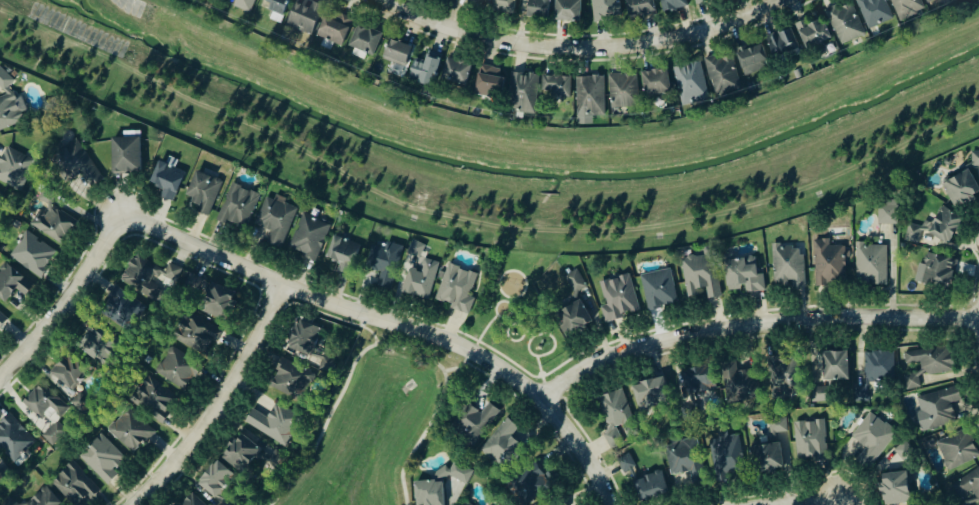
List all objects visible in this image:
building: (215, 0)
building: (442, 0)
building: (700, 1)
building: (928, 1)
building: (241, 4)
building: (473, 4)
building: (671, 5)
building: (502, 6)
building: (274, 8)
building: (638, 8)
building: (905, 8)
building: (537, 9)
building: (565, 11)
building: (604, 11)
building: (872, 12)
building: (302, 18)
building: (843, 23)
building: (332, 28)
building: (811, 34)
building: (363, 40)
building: (780, 44)
road: (582, 50)
building: (394, 53)
building: (751, 59)
building: (423, 73)
building: (454, 73)
building: (721, 74)
building: (3, 81)
building: (487, 83)
building: (654, 84)
building: (689, 84)
building: (554, 88)
building: (621, 91)
building: (521, 94)
building: (588, 97)
building: (10, 112)
building: (124, 155)
building: (975, 160)
building: (76, 163)
building: (10, 167)
building: (165, 181)
building: (959, 188)
building: (201, 193)
building: (236, 207)
building: (887, 212)
building: (51, 220)
building: (274, 220)
building: (943, 225)
building: (307, 237)
building: (341, 251)
building: (31, 254)
building: (827, 264)
building: (381, 265)
building: (870, 265)
building: (786, 266)
road: (892, 271)
building: (937, 272)
building: (139, 275)
building: (741, 276)
building: (699, 277)
building: (418, 280)
building: (573, 282)
building: (11, 283)
building: (454, 289)
building: (657, 289)
building: (617, 298)
road: (66, 299)
building: (216, 302)
building: (119, 308)
park: (520, 311)
building: (571, 319)
building: (1, 320)
road: (753, 322)
road: (394, 323)
building: (195, 335)
building: (303, 338)
building: (95, 344)
building: (928, 360)
building: (327, 365)
building: (832, 366)
building: (176, 369)
building: (67, 371)
building: (873, 371)
building: (782, 376)
building: (288, 380)
building: (696, 380)
building: (738, 383)
building: (651, 392)
building: (819, 394)
building: (152, 400)
building: (80, 402)
road: (219, 403)
building: (613, 408)
building: (936, 408)
building: (45, 411)
building: (471, 423)
building: (274, 424)
building: (776, 426)
building: (128, 432)
building: (13, 439)
building: (869, 440)
building: (808, 442)
building: (503, 445)
building: (957, 448)
building: (903, 452)
building: (240, 453)
building: (725, 457)
building: (765, 459)
building: (101, 460)
building: (683, 461)
building: (3, 476)
building: (215, 482)
building: (73, 486)
building: (529, 487)
building: (648, 488)
building: (893, 488)
building: (968, 488)
building: (427, 493)
building: (43, 499)
building: (190, 501)
road: (809, 501)
building: (7, 503)
building: (557, 503)
building: (465, 504)
building: (493, 504)

